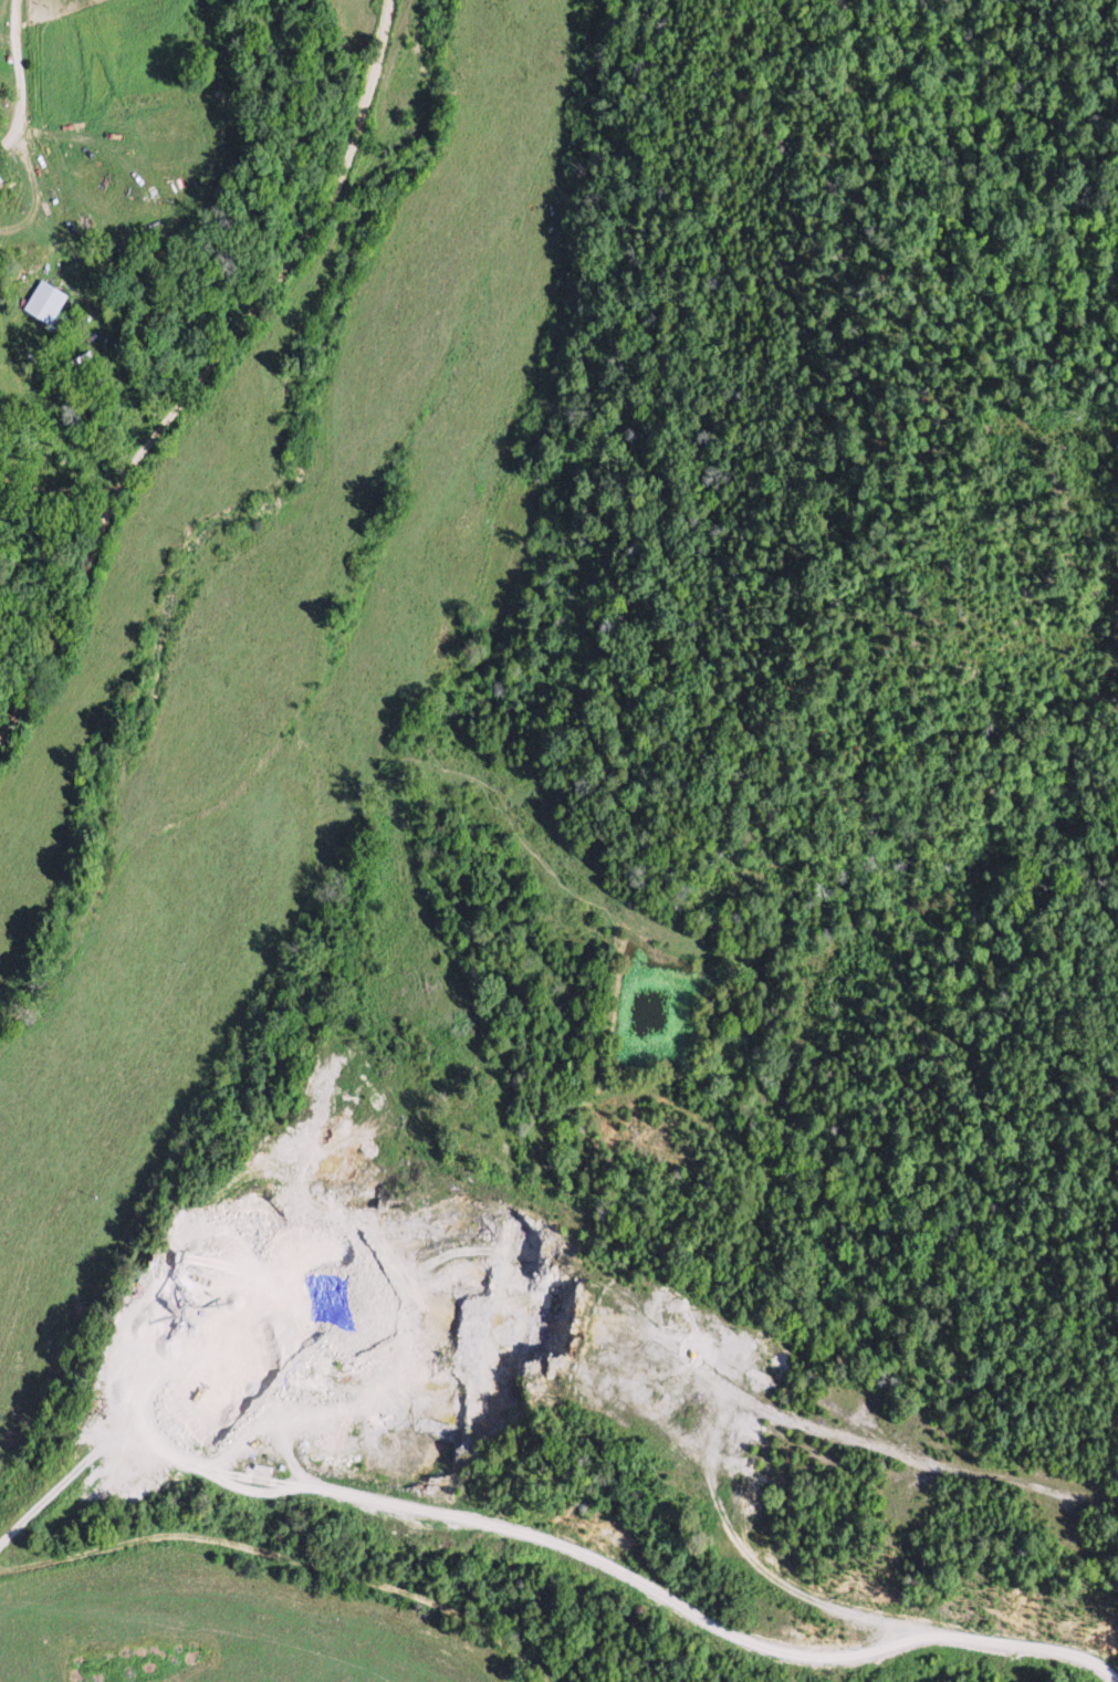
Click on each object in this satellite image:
road: (12, 70)
building: (55, 300)
road: (179, 323)
road: (535, 1345)

